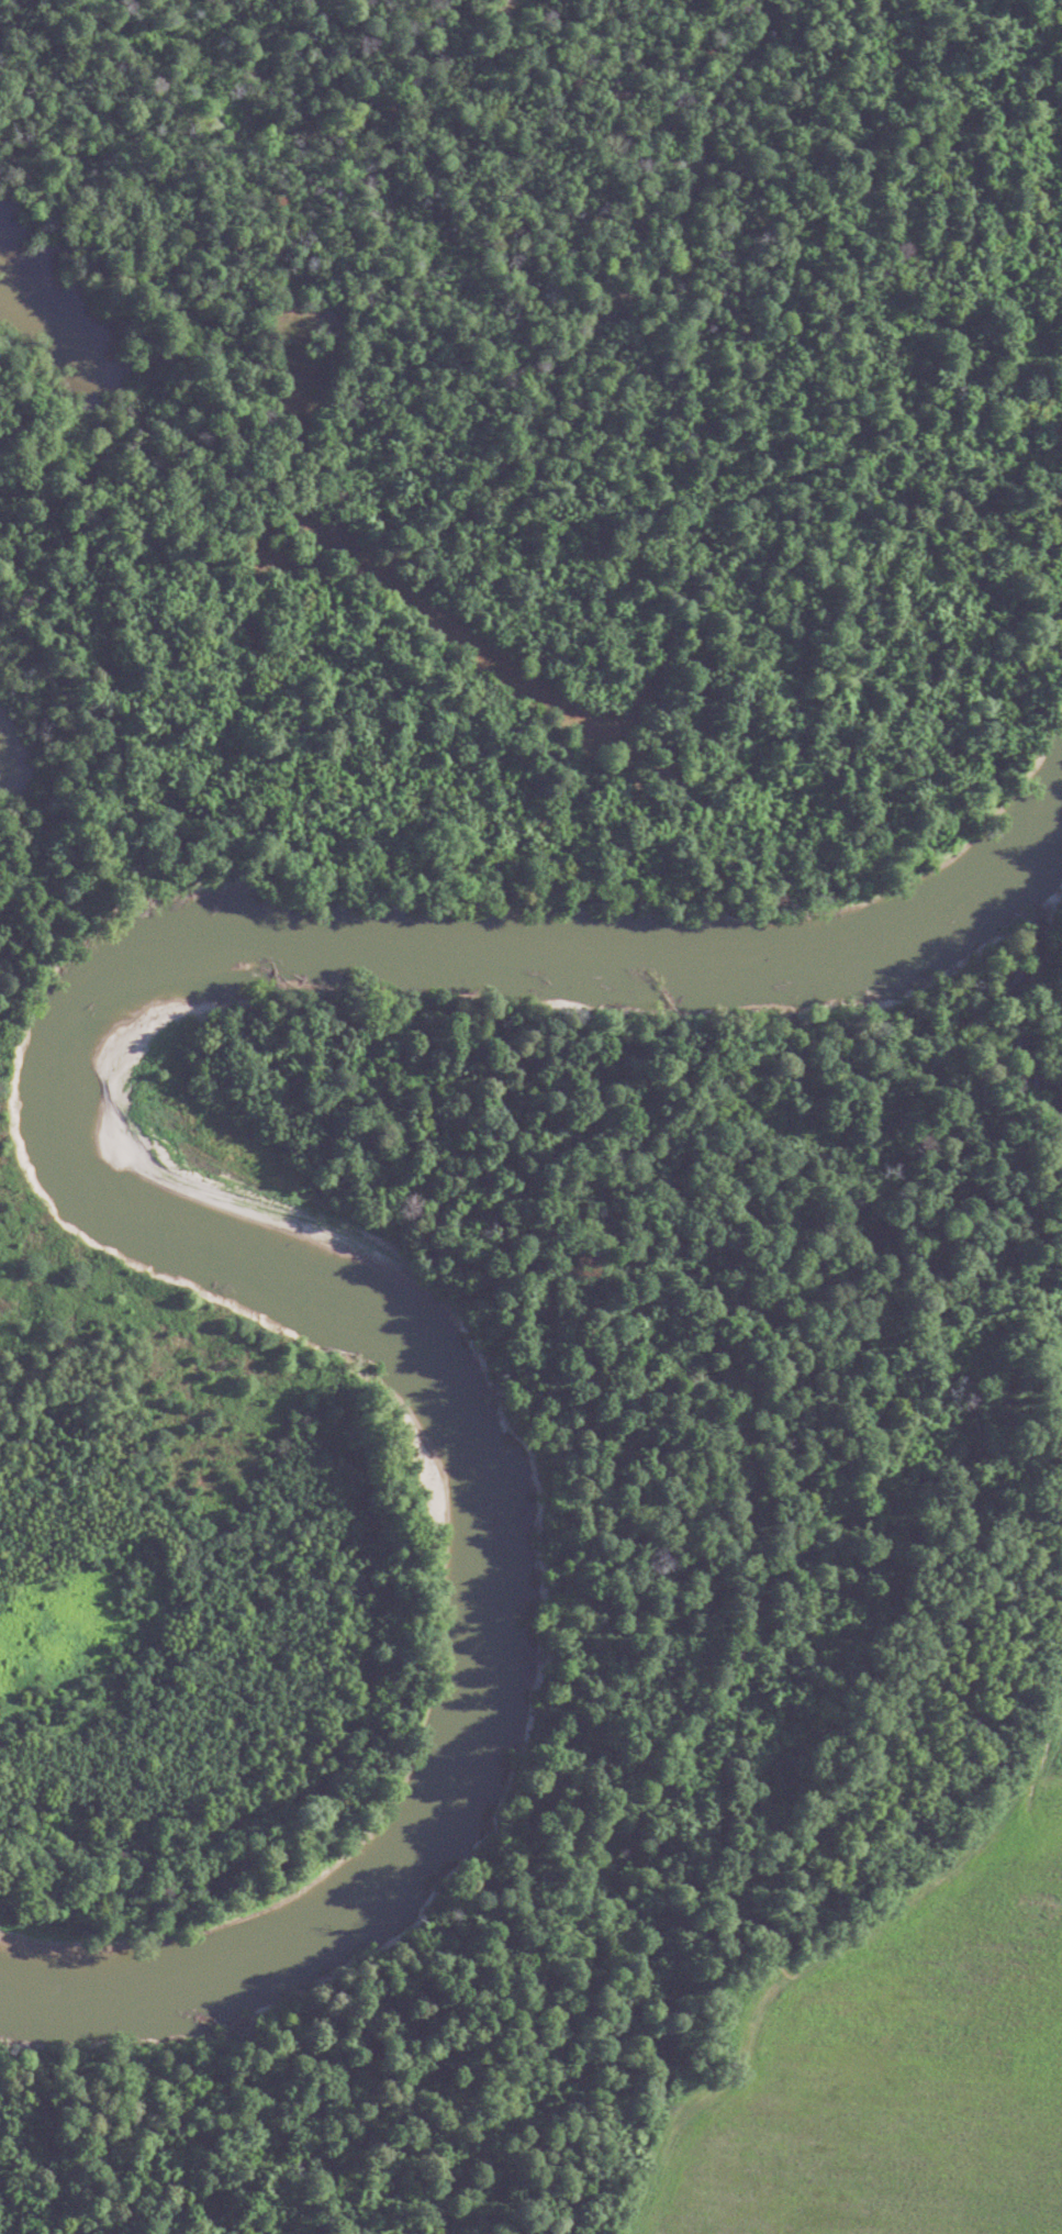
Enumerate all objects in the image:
river: (189, 1188)

